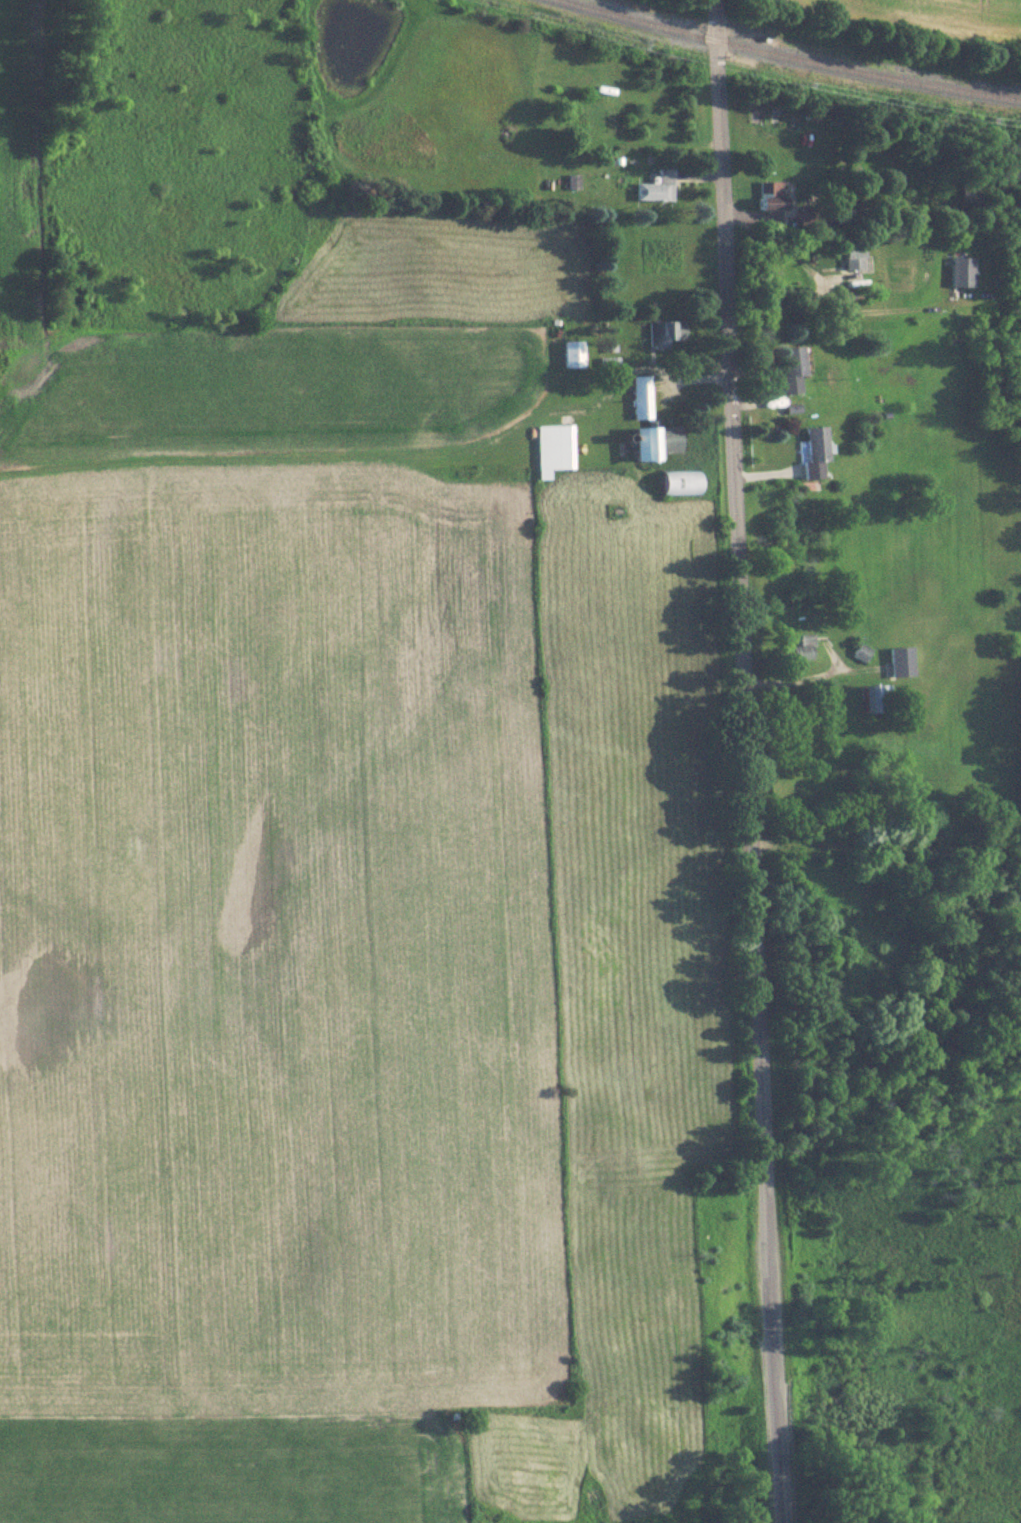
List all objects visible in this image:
railway: (638, 20)
railway: (866, 70)
building: (581, 118)
building: (655, 187)
building: (768, 195)
building: (851, 257)
building: (962, 272)
road: (815, 280)
building: (663, 332)
building: (571, 354)
building: (790, 368)
building: (639, 397)
building: (655, 441)
building: (552, 449)
building: (812, 450)
building: (678, 483)
building: (799, 646)
building: (860, 654)
building: (900, 662)
building: (876, 698)
road: (746, 761)
road: (886, 842)

